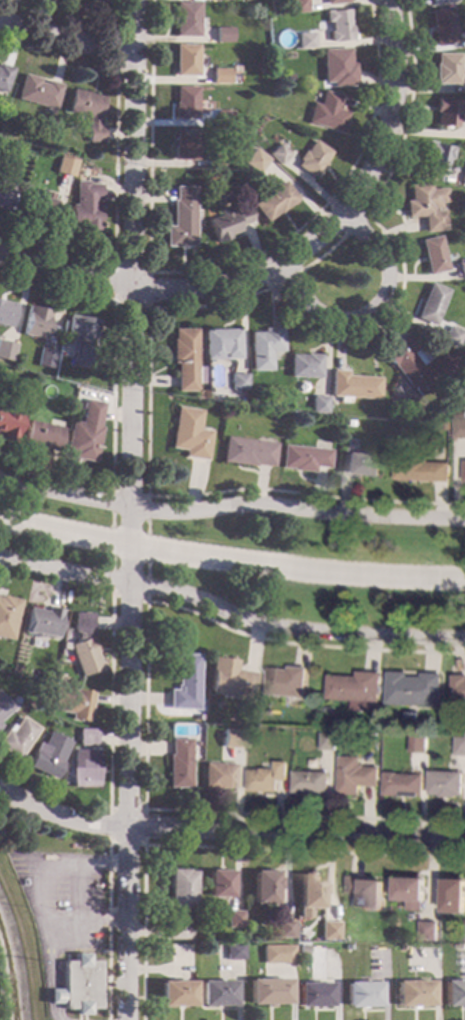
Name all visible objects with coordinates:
building: (331, 1)
building: (437, 1)
building: (295, 6)
road: (116, 15)
building: (186, 19)
building: (336, 25)
building: (441, 26)
building: (223, 34)
building: (303, 40)
road: (65, 41)
road: (116, 49)
building: (185, 59)
building: (334, 67)
building: (445, 68)
building: (218, 75)
building: (4, 76)
building: (36, 92)
building: (184, 102)
building: (86, 111)
building: (325, 112)
building: (445, 112)
building: (222, 118)
building: (1, 142)
building: (184, 144)
building: (275, 153)
building: (435, 156)
building: (311, 159)
building: (253, 160)
building: (213, 161)
road: (115, 165)
building: (65, 166)
building: (462, 174)
building: (4, 191)
building: (274, 201)
building: (39, 205)
building: (85, 206)
building: (424, 206)
road: (339, 216)
building: (181, 219)
road: (355, 219)
building: (227, 222)
road: (324, 252)
road: (130, 253)
building: (432, 254)
road: (219, 266)
building: (461, 270)
road: (64, 273)
road: (287, 278)
road: (62, 298)
building: (430, 303)
road: (195, 305)
road: (148, 306)
road: (371, 308)
building: (6, 313)
building: (38, 323)
building: (450, 336)
building: (81, 339)
building: (220, 344)
building: (6, 347)
building: (262, 347)
building: (44, 358)
building: (184, 359)
building: (404, 364)
building: (302, 365)
road: (112, 368)
building: (2, 378)
building: (236, 382)
building: (350, 386)
building: (315, 404)
building: (8, 423)
building: (348, 424)
building: (445, 424)
building: (459, 427)
building: (84, 433)
building: (189, 433)
building: (41, 435)
building: (247, 452)
building: (302, 458)
building: (360, 464)
building: (420, 469)
building: (464, 470)
road: (129, 491)
road: (231, 505)
road: (110, 518)
road: (128, 525)
road: (146, 526)
road: (110, 540)
road: (146, 541)
road: (146, 553)
road: (230, 558)
park: (260, 559)
road: (110, 562)
road: (146, 569)
road: (127, 597)
road: (229, 614)
building: (7, 616)
building: (41, 622)
building: (81, 644)
building: (230, 679)
building: (287, 681)
building: (184, 684)
building: (458, 687)
building: (355, 688)
building: (413, 688)
road: (109, 700)
road: (144, 702)
building: (70, 703)
building: (3, 708)
building: (225, 736)
building: (16, 737)
building: (85, 737)
building: (328, 739)
building: (237, 740)
building: (417, 742)
building: (459, 744)
building: (47, 756)
building: (178, 764)
building: (83, 768)
building: (354, 774)
building: (218, 776)
building: (265, 776)
building: (309, 781)
road: (125, 782)
building: (444, 782)
building: (401, 784)
road: (228, 831)
road: (142, 843)
road: (216, 846)
road: (101, 863)
building: (217, 883)
road: (30, 887)
building: (263, 887)
building: (178, 888)
building: (309, 889)
road: (77, 890)
building: (365, 890)
building: (410, 890)
building: (454, 895)
road: (101, 917)
building: (232, 919)
building: (283, 928)
building: (177, 930)
building: (328, 930)
building: (427, 930)
road: (106, 931)
building: (460, 945)
building: (346, 947)
building: (392, 948)
building: (210, 949)
road: (76, 950)
building: (232, 951)
road: (47, 952)
building: (275, 954)
building: (76, 985)
building: (266, 991)
building: (214, 992)
building: (453, 992)
building: (412, 993)
building: (174, 994)
building: (312, 994)
building: (360, 994)
road: (48, 996)
road: (50, 1011)
road: (53, 1019)

